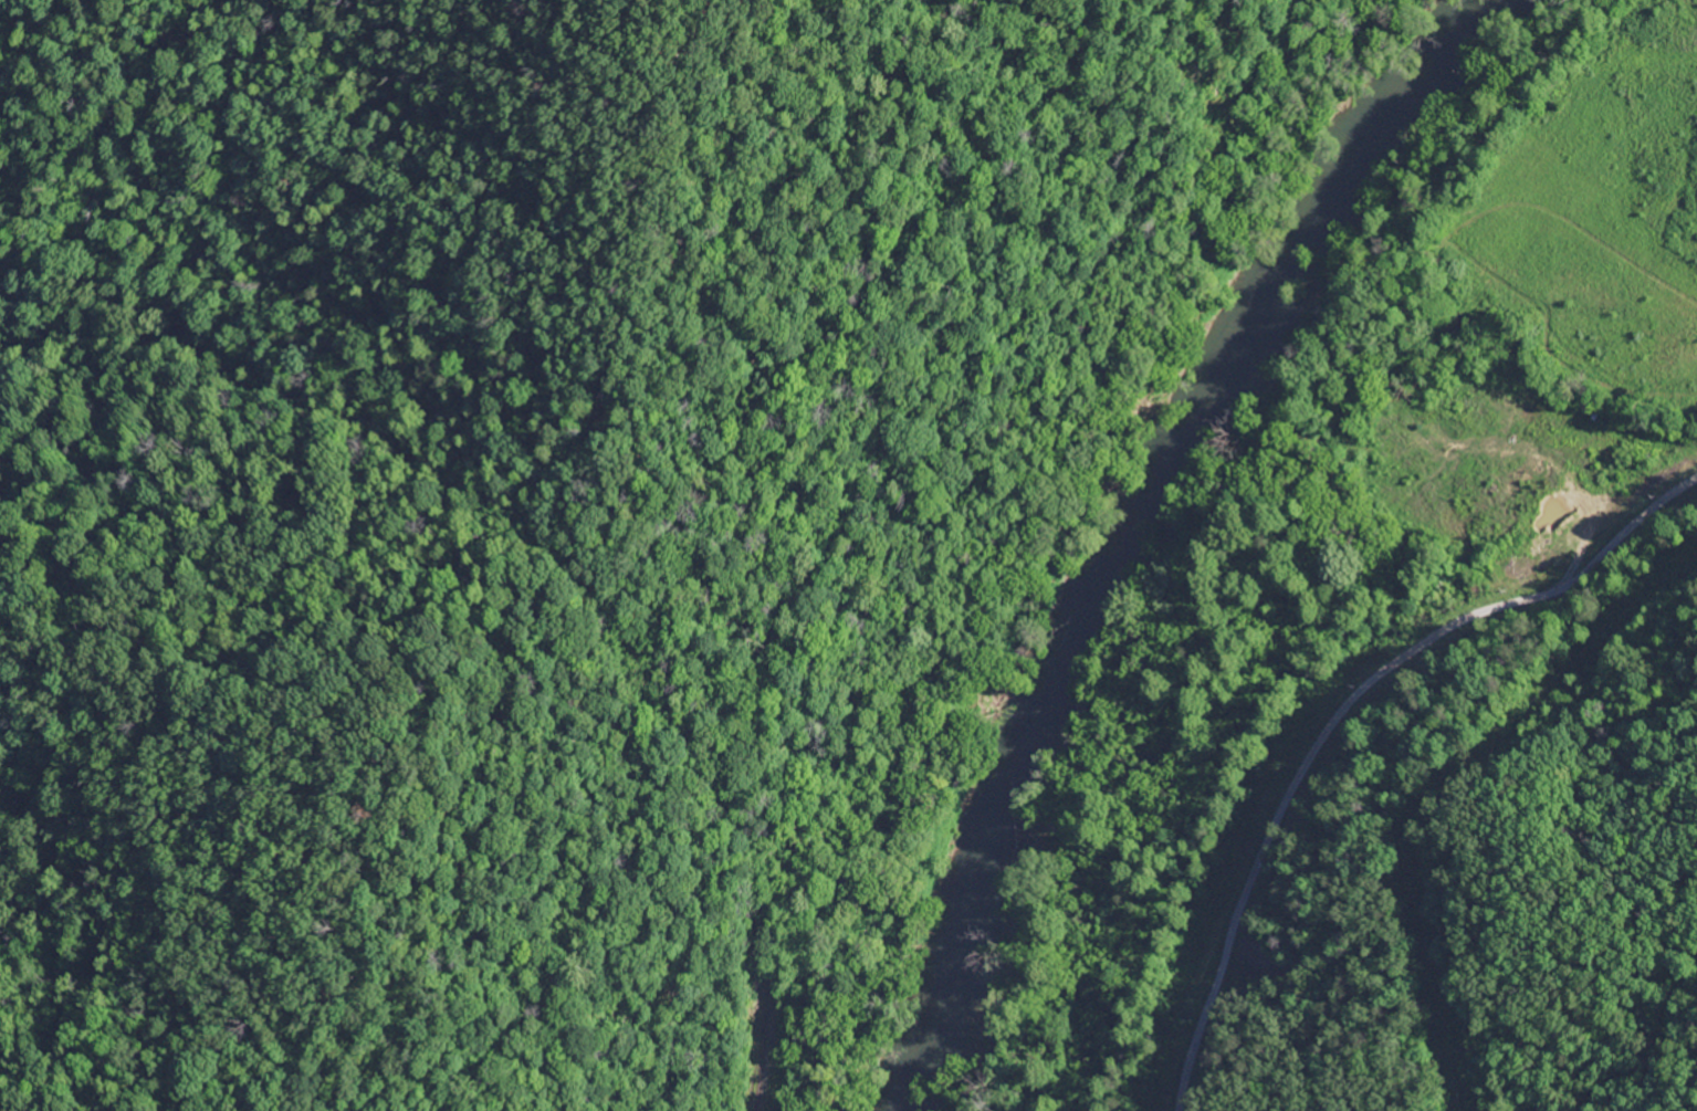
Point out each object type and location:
river: (1129, 524)
road: (1610, 542)
road: (1274, 796)
railway: (761, 1021)

